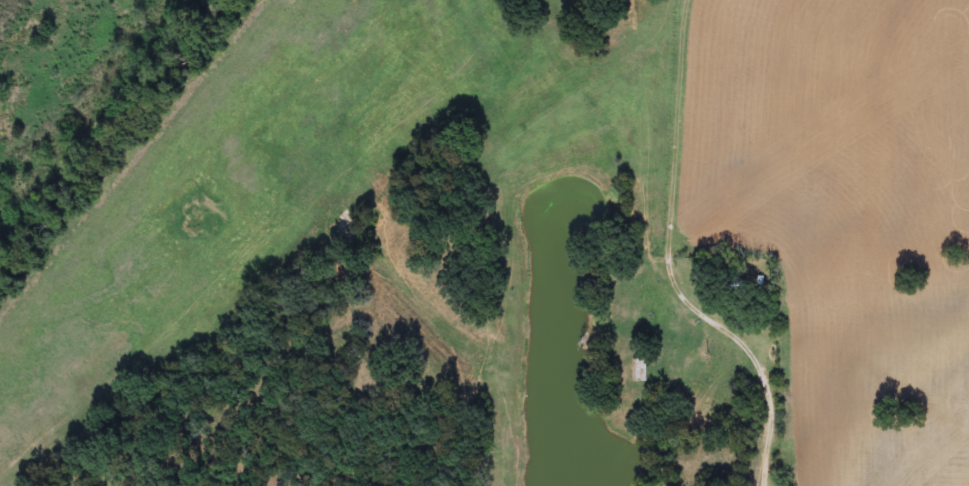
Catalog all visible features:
building: (638, 370)

